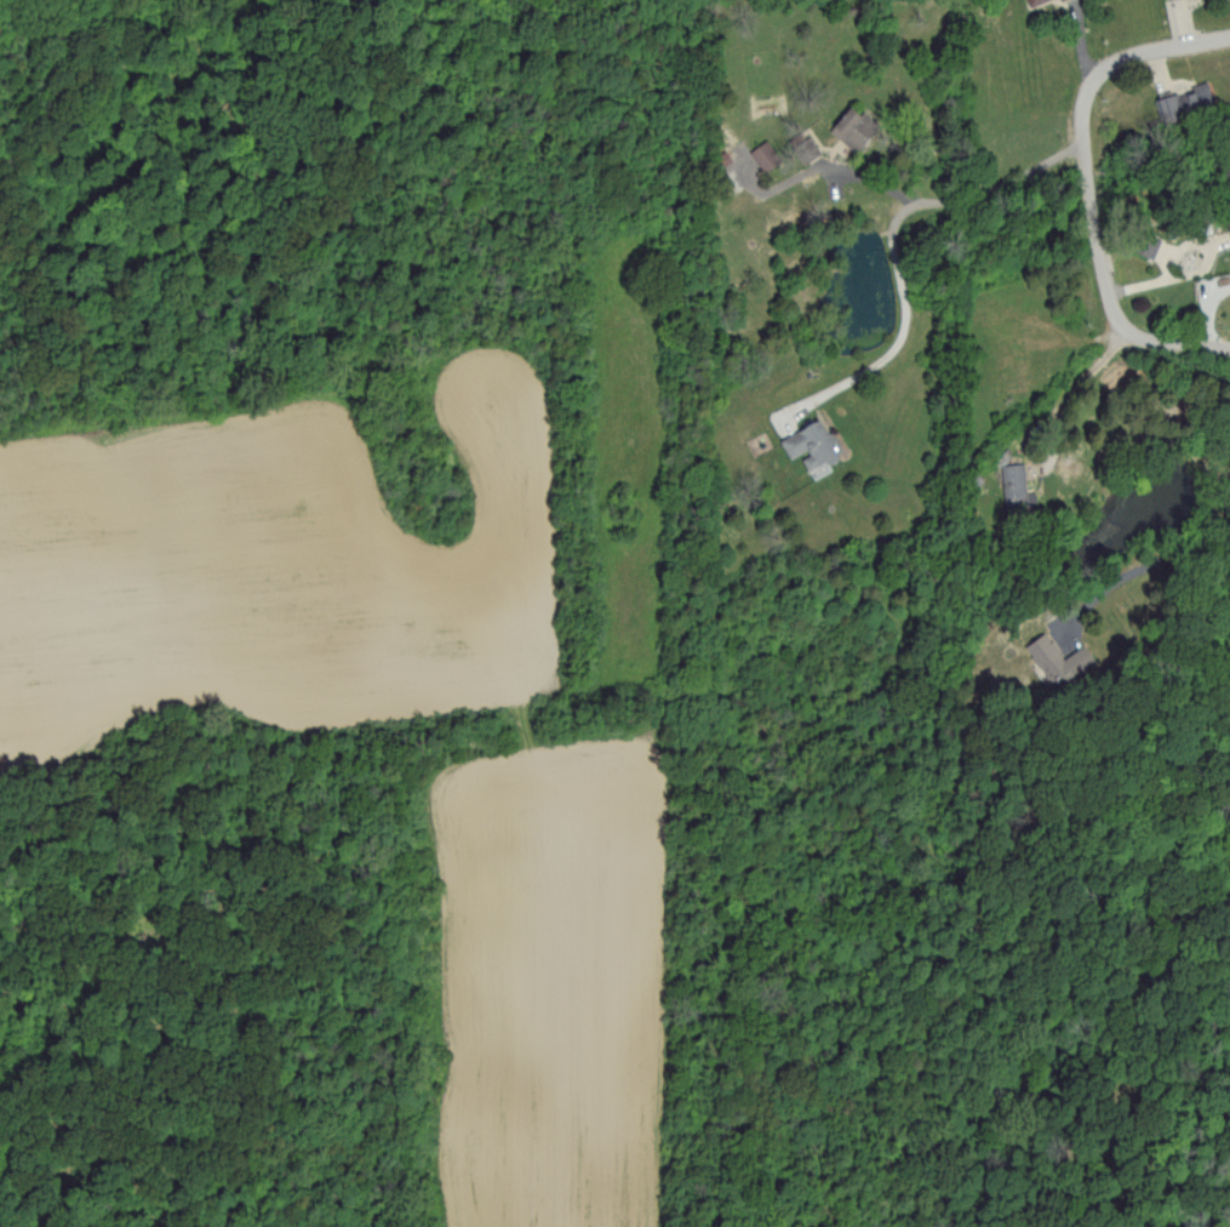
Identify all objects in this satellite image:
building: (1058, 0)
building: (1165, 0)
building: (1030, 1)
building: (1182, 101)
building: (849, 127)
building: (803, 144)
building: (761, 154)
road: (1088, 190)
road: (942, 202)
road: (1165, 242)
building: (1144, 244)
road: (1075, 339)
road: (900, 342)
road: (1072, 395)
building: (807, 444)
building: (1014, 490)
road: (1142, 572)
building: (1057, 658)

